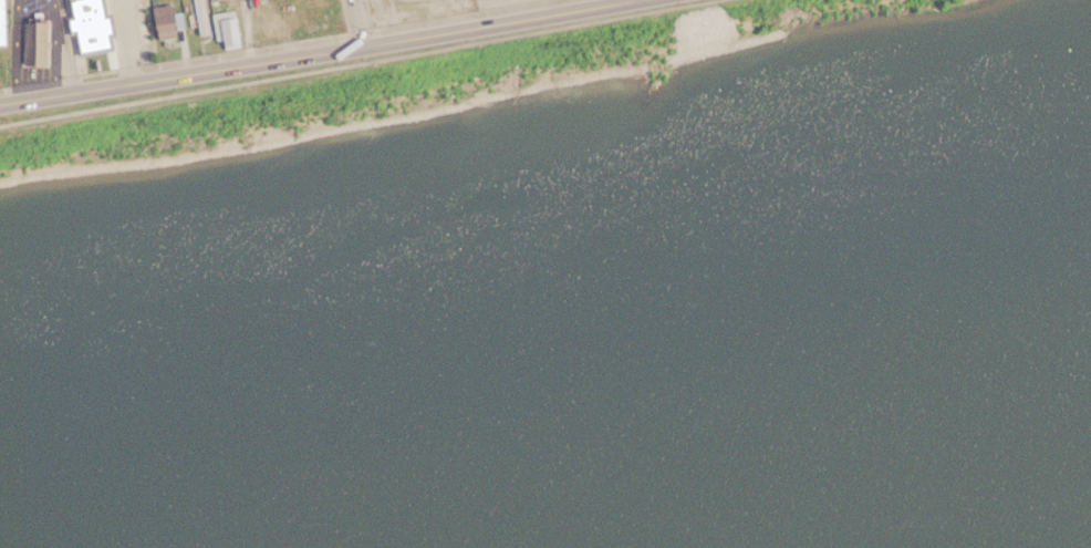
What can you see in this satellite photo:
building: (200, 17)
road: (353, 19)
building: (159, 20)
building: (1, 21)
building: (86, 24)
building: (225, 29)
building: (34, 42)
road: (316, 45)
road: (355, 62)
river: (548, 406)

